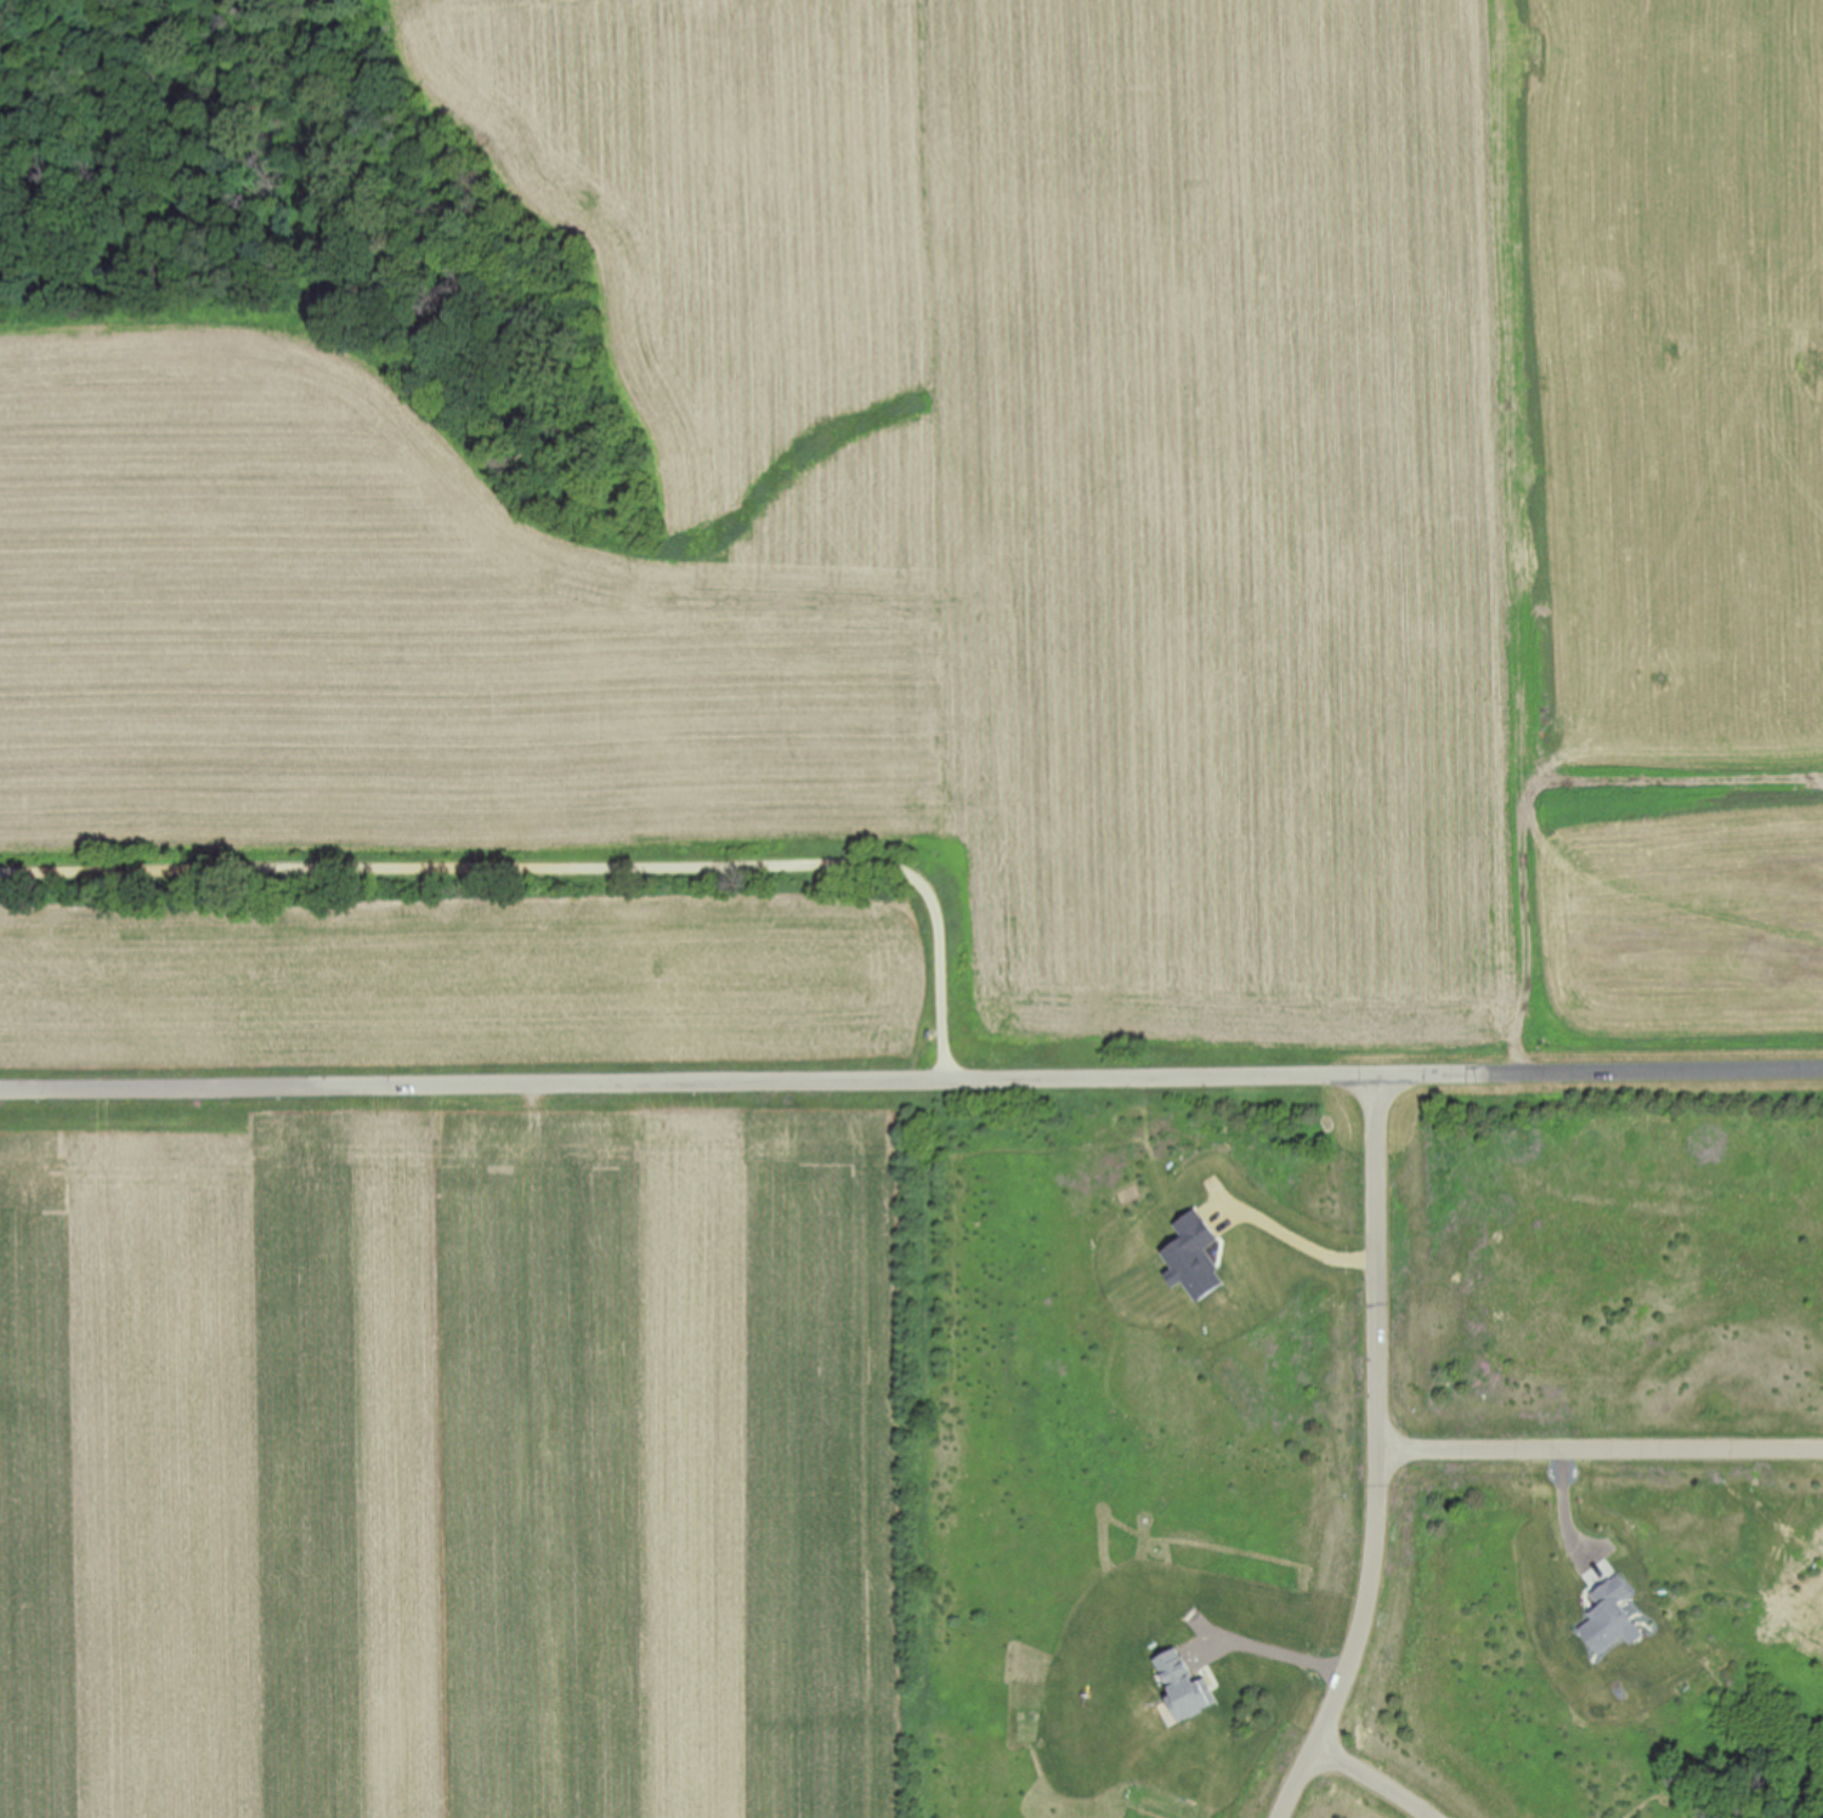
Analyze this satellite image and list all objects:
crop: (1049, 512)
road: (565, 863)
crop: (458, 986)
road: (911, 1084)
road: (1385, 1420)
road: (1604, 1455)
crop: (455, 1456)
road: (1272, 1659)
road: (1377, 1782)
road: (1302, 1784)

